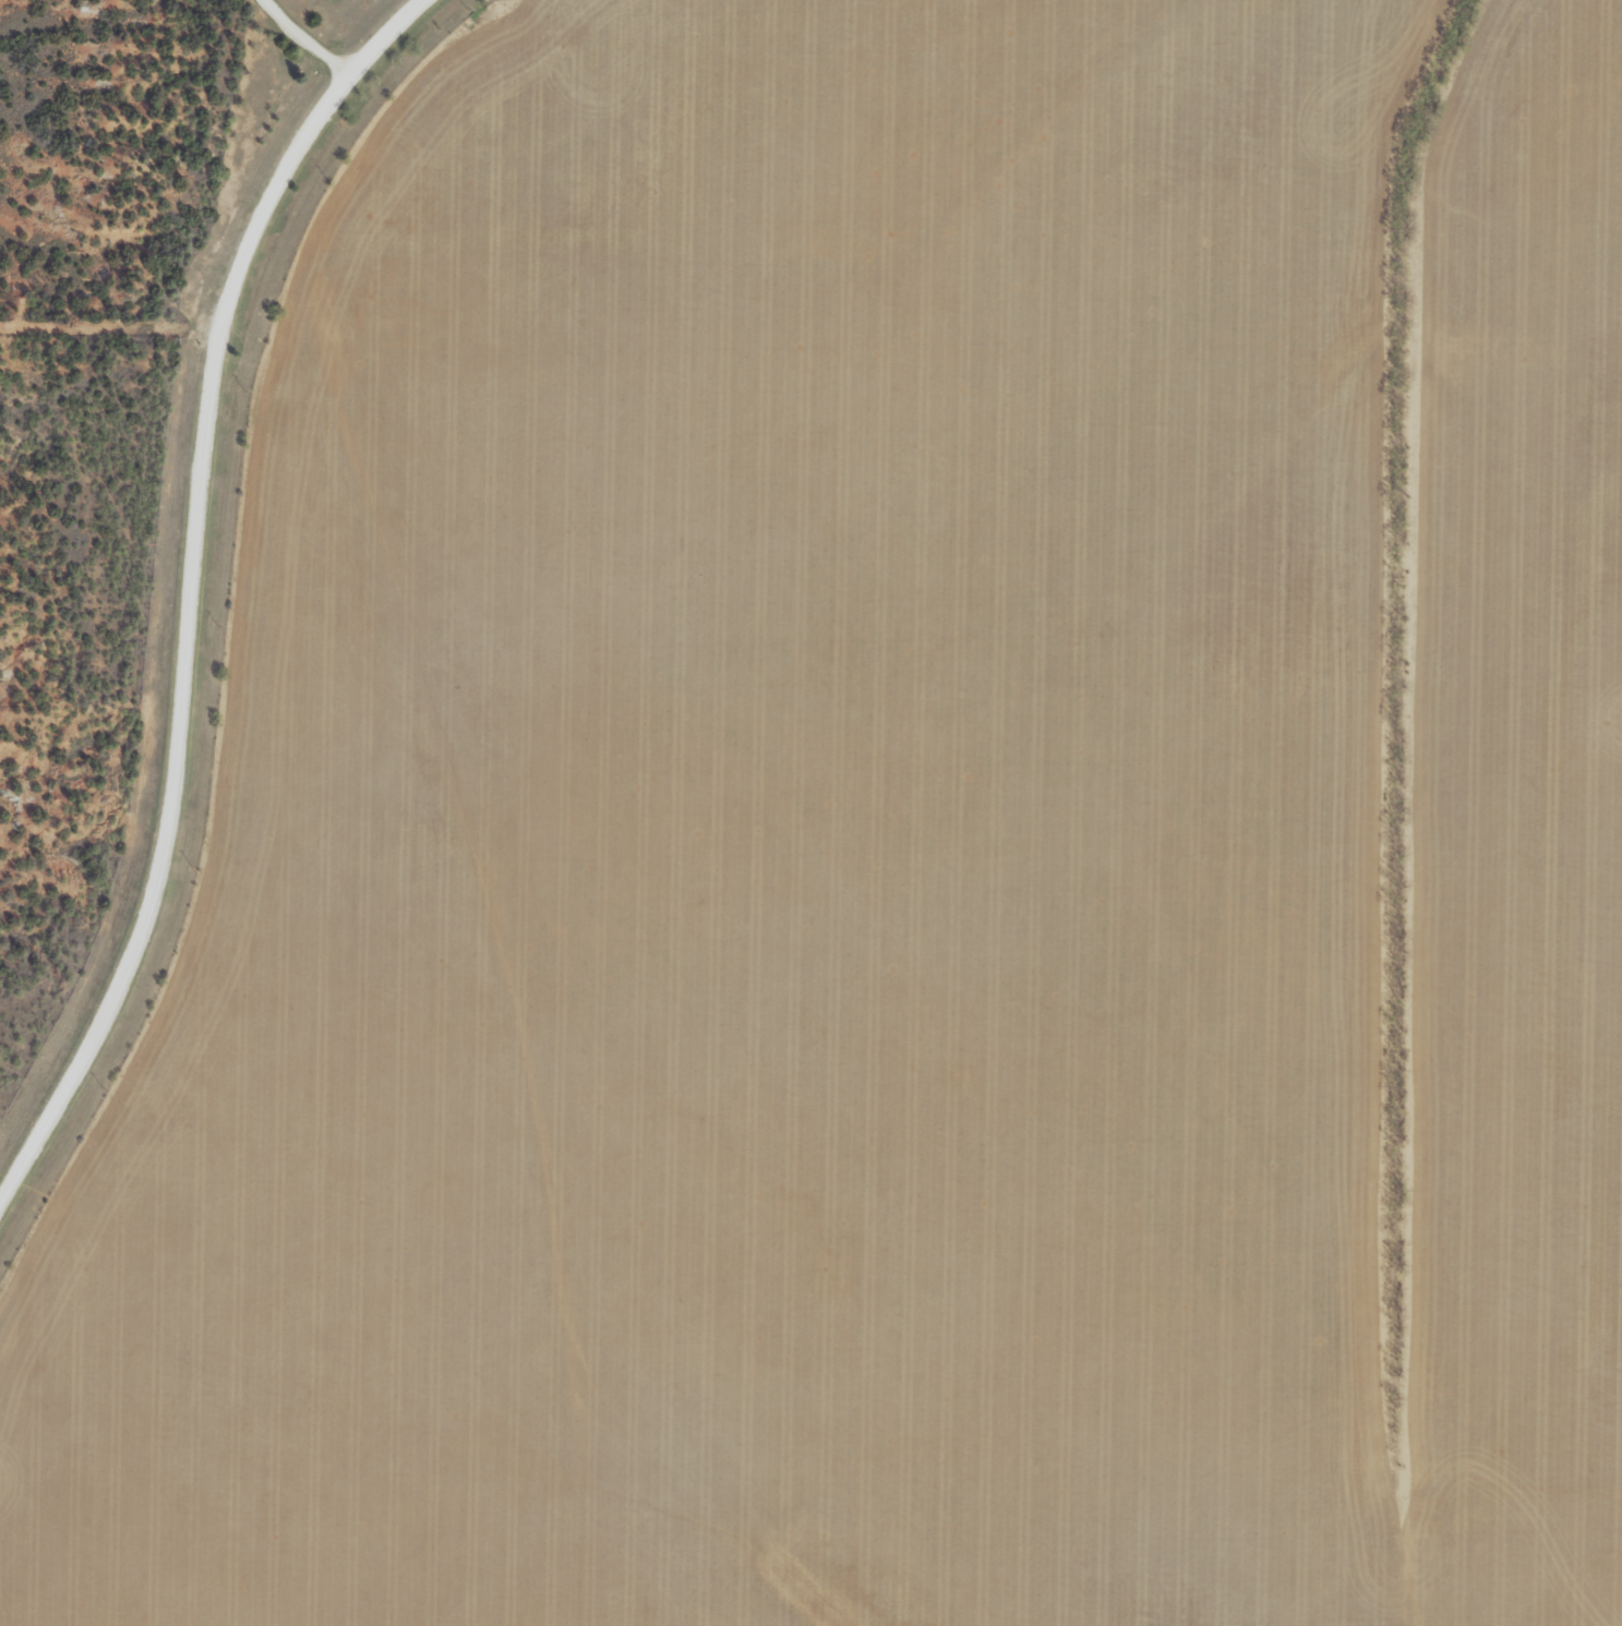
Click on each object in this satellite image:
road: (304, 41)
road: (192, 588)

